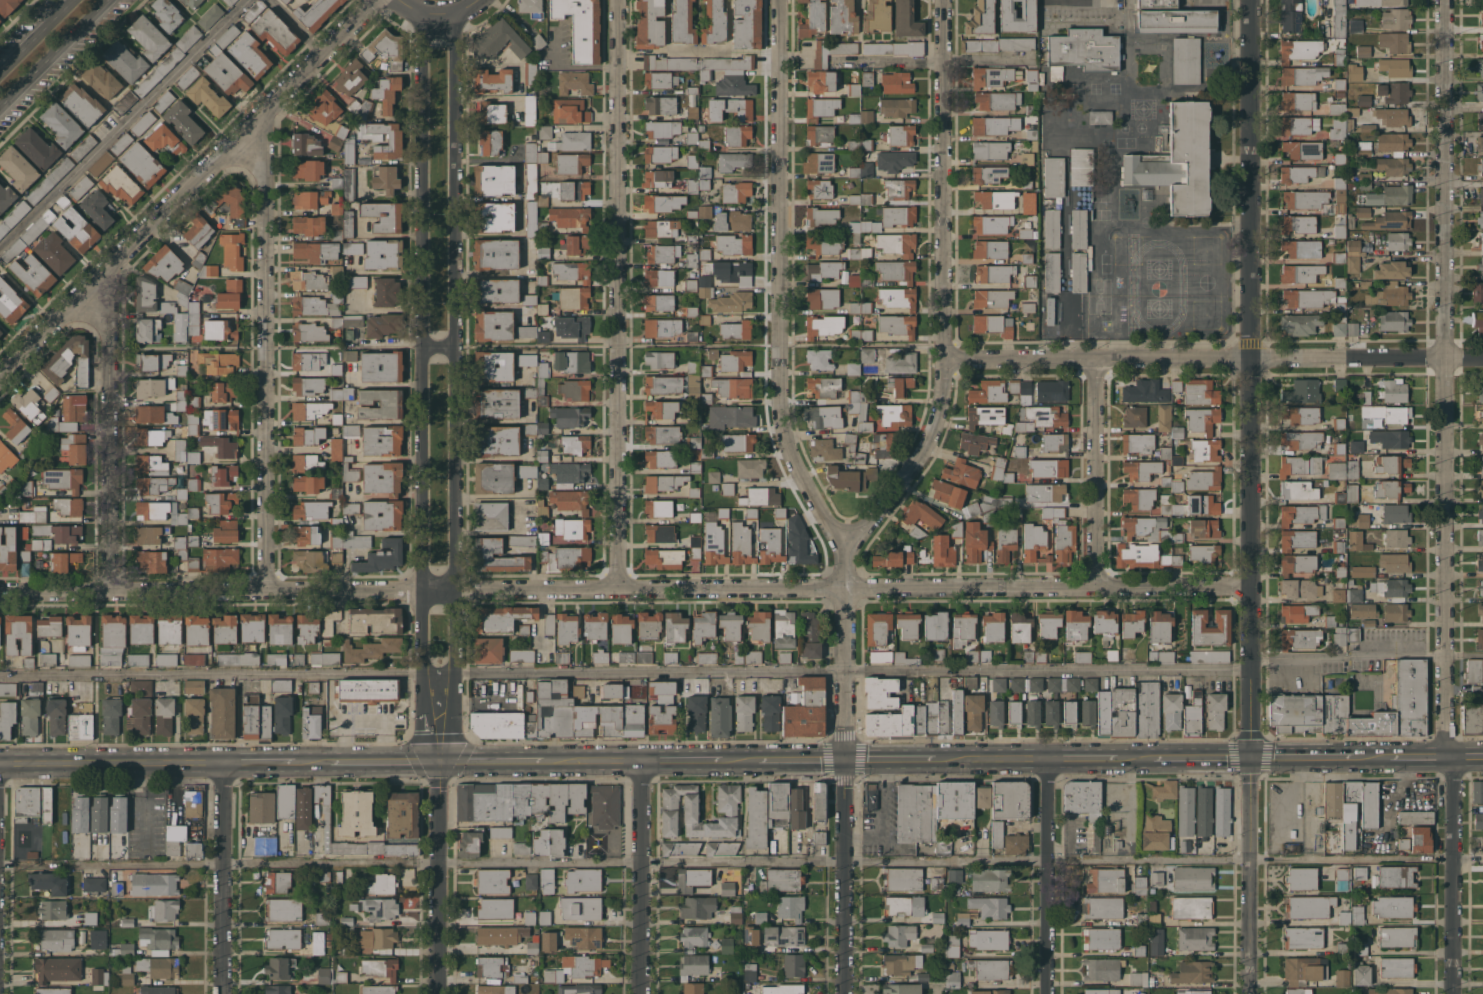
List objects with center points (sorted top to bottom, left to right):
building: (285, 1)
road: (1081, 1)
building: (1480, 1)
building: (192, 2)
building: (229, 2)
building: (1381, 2)
park: (437, 5)
road: (464, 5)
building: (7, 6)
building: (531, 7)
building: (254, 10)
building: (316, 12)
road: (425, 12)
building: (1007, 12)
building: (167, 14)
building: (210, 15)
building: (876, 16)
building: (1291, 16)
building: (843, 17)
building: (980, 18)
building: (1173, 18)
building: (1339, 18)
building: (1396, 18)
building: (813, 19)
building: (906, 19)
building: (1481, 19)
building: (0, 20)
building: (682, 22)
building: (714, 22)
building: (649, 24)
building: (747, 24)
building: (1355, 25)
building: (581, 27)
road: (297, 29)
building: (275, 31)
road: (35, 35)
building: (228, 35)
building: (148, 37)
building: (188, 37)
building: (499, 40)
building: (537, 41)
building: (1481, 41)
building: (1394, 42)
building: (1016, 43)
building: (172, 45)
building: (979, 45)
building: (842, 47)
building: (878, 47)
building: (909, 48)
building: (384, 49)
building: (1084, 49)
building: (1299, 49)
building: (1363, 51)
road: (53, 53)
building: (250, 54)
building: (821, 54)
building: (1339, 56)
road: (975, 59)
building: (170, 60)
building: (1186, 60)
building: (125, 61)
building: (654, 62)
building: (744, 62)
road: (889, 62)
building: (682, 63)
building: (715, 63)
building: (1480, 65)
building: (1395, 66)
road: (569, 67)
building: (1059, 69)
building: (224, 71)
building: (690, 71)
building: (1354, 72)
building: (530, 73)
building: (704, 75)
building: (993, 75)
building: (1303, 75)
building: (188, 77)
building: (350, 77)
building: (867, 78)
building: (1031, 78)
building: (101, 79)
building: (659, 79)
building: (492, 80)
building: (821, 80)
building: (148, 81)
building: (575, 82)
building: (897, 82)
building: (734, 83)
building: (1339, 83)
building: (692, 89)
building: (853, 89)
building: (1479, 91)
building: (386, 92)
building: (536, 92)
building: (540, 92)
building: (1394, 92)
building: (1340, 94)
building: (208, 96)
building: (1329, 98)
building: (997, 99)
building: (164, 100)
building: (1298, 100)
building: (1364, 100)
building: (124, 102)
building: (82, 103)
building: (660, 104)
building: (354, 105)
building: (897, 106)
building: (325, 107)
building: (821, 107)
building: (729, 108)
building: (1030, 109)
building: (1342, 109)
building: (365, 110)
building: (529, 110)
building: (569, 110)
building: (491, 112)
building: (692, 112)
building: (855, 116)
building: (866, 116)
building: (1100, 116)
building: (1393, 116)
building: (1480, 119)
building: (183, 120)
building: (143, 123)
building: (61, 124)
road: (125, 124)
building: (994, 124)
building: (1299, 124)
building: (1349, 124)
building: (701, 127)
building: (1366, 127)
building: (662, 128)
building: (1338, 129)
building: (341, 131)
building: (545, 131)
building: (1053, 131)
building: (737, 134)
building: (819, 134)
building: (901, 134)
building: (1031, 134)
building: (692, 137)
building: (395, 139)
building: (165, 140)
building: (571, 140)
building: (490, 141)
building: (121, 142)
building: (335, 142)
building: (1393, 142)
building: (305, 144)
building: (704, 144)
building: (854, 144)
building: (867, 144)
building: (1034, 145)
building: (1480, 146)
building: (37, 147)
building: (83, 147)
building: (1364, 148)
building: (349, 149)
building: (990, 149)
building: (1303, 149)
building: (531, 152)
building: (660, 153)
building: (543, 157)
building: (1081, 157)
building: (1339, 157)
building: (1027, 158)
building: (734, 160)
building: (894, 160)
building: (1177, 160)
building: (692, 161)
building: (819, 162)
building: (99, 163)
building: (142, 164)
building: (571, 164)
building: (365, 165)
building: (1393, 165)
building: (1480, 166)
building: (18, 168)
building: (308, 169)
building: (866, 169)
building: (60, 170)
building: (705, 172)
building: (854, 172)
building: (988, 173)
building: (1299, 173)
building: (1053, 176)
building: (1364, 177)
building: (658, 178)
building: (385, 179)
building: (494, 179)
building: (531, 180)
building: (336, 182)
building: (1339, 182)
building: (349, 183)
building: (704, 183)
building: (1026, 183)
building: (121, 184)
building: (1365, 184)
building: (692, 185)
building: (1351, 185)
building: (80, 187)
building: (819, 188)
building: (900, 188)
building: (573, 189)
building: (39, 190)
building: (735, 191)
road: (192, 193)
building: (1391, 195)
building: (1481, 195)
building: (6, 196)
building: (310, 198)
building: (867, 198)
building: (995, 198)
building: (542, 199)
building: (854, 199)
building: (1305, 199)
building: (63, 201)
building: (657, 202)
building: (1339, 203)
building: (1031, 204)
building: (237, 206)
building: (96, 208)
building: (336, 208)
building: (705, 211)
building: (1362, 211)
building: (16, 213)
building: (691, 213)
building: (49, 215)
building: (383, 215)
building: (821, 215)
building: (897, 215)
building: (493, 216)
building: (570, 216)
building: (531, 218)
building: (1480, 218)
building: (731, 220)
building: (1389, 220)
building: (1351, 221)
building: (348, 223)
building: (992, 223)
building: (1298, 223)
building: (309, 224)
building: (854, 226)
building: (870, 226)
building: (3, 227)
building: (543, 227)
building: (1052, 228)
building: (1079, 228)
building: (77, 229)
building: (660, 229)
building: (34, 230)
building: (198, 230)
building: (1339, 231)
building: (336, 233)
building: (1025, 233)
building: (863, 234)
building: (856, 236)
building: (700, 237)
building: (691, 238)
building: (1398, 240)
building: (1331, 241)
building: (529, 242)
building: (576, 243)
building: (734, 243)
building: (824, 243)
building: (897, 243)
building: (1479, 243)
building: (353, 247)
building: (1354, 247)
building: (1301, 248)
building: (13, 249)
building: (232, 249)
building: (990, 249)
building: (315, 250)
building: (54, 252)
building: (543, 252)
building: (704, 252)
building: (855, 252)
building: (866, 252)
building: (495, 253)
building: (663, 253)
building: (384, 254)
building: (199, 256)
building: (1338, 256)
building: (1027, 257)
building: (691, 259)
building: (164, 263)
building: (197, 263)
building: (1353, 263)
building: (1480, 265)
building: (822, 269)
building: (896, 269)
building: (1392, 269)
building: (209, 270)
building: (337, 270)
building: (572, 270)
building: (730, 270)
building: (530, 271)
building: (1052, 271)
building: (995, 272)
building: (1078, 272)
building: (1302, 273)
building: (33, 274)
building: (531, 276)
building: (658, 277)
building: (543, 279)
building: (854, 279)
building: (867, 279)
building: (308, 280)
building: (355, 281)
building: (704, 281)
building: (1029, 281)
building: (1339, 281)
building: (691, 284)
building: (1365, 284)
building: (183, 286)
road: (941, 288)
building: (496, 290)
building: (386, 291)
building: (1477, 291)
building: (706, 292)
building: (145, 294)
building: (230, 294)
building: (1389, 294)
road: (618, 295)
building: (572, 297)
building: (822, 297)
building: (898, 297)
building: (992, 297)
building: (1308, 297)
road: (27, 298)
building: (182, 298)
building: (194, 299)
building: (529, 299)
building: (731, 301)
building: (11, 302)
building: (659, 302)
building: (1340, 303)
building: (317, 304)
building: (167, 306)
building: (866, 306)
building: (1028, 306)
building: (855, 307)
building: (543, 308)
building: (691, 311)
building: (1050, 311)
building: (704, 319)
building: (353, 320)
building: (1394, 320)
building: (1478, 320)
building: (337, 321)
building: (194, 323)
building: (1300, 323)
building: (1339, 323)
building: (383, 324)
building: (493, 324)
building: (897, 324)
building: (993, 324)
building: (823, 325)
building: (181, 326)
building: (572, 326)
building: (661, 326)
building: (147, 328)
building: (1352, 328)
building: (220, 329)
building: (737, 329)
building: (308, 331)
building: (527, 331)
building: (1, 332)
building: (337, 332)
building: (854, 334)
building: (867, 334)
building: (543, 335)
building: (691, 335)
road: (22, 339)
road: (697, 345)
road: (438, 347)
road: (263, 348)
building: (712, 353)
building: (350, 355)
building: (867, 355)
road: (1211, 357)
building: (659, 358)
building: (819, 358)
road: (263, 359)
building: (526, 359)
building: (152, 360)
building: (308, 360)
building: (69, 361)
building: (572, 361)
building: (736, 361)
building: (219, 362)
building: (901, 362)
building: (381, 366)
building: (494, 366)
building: (336, 368)
building: (853, 368)
building: (182, 369)
building: (542, 369)
building: (707, 370)
building: (693, 379)
road: (1249, 379)
building: (308, 384)
building: (662, 384)
building: (1339, 384)
building: (900, 385)
building: (1014, 385)
building: (1177, 385)
building: (153, 386)
road: (455, 386)
building: (733, 386)
building: (824, 386)
road: (422, 387)
building: (1025, 387)
building: (575, 388)
building: (1052, 389)
building: (223, 390)
building: (1394, 390)
building: (530, 391)
building: (988, 391)
building: (1145, 391)
building: (1302, 391)
building: (50, 392)
building: (1201, 392)
building: (336, 393)
building: (348, 393)
building: (542, 393)
building: (1480, 393)
building: (181, 394)
building: (868, 395)
building: (854, 396)
building: (1364, 396)
building: (706, 397)
building: (194, 401)
building: (380, 403)
building: (496, 403)
building: (29, 404)
building: (181, 405)
building: (74, 407)
building: (853, 407)
building: (663, 408)
building: (843, 408)
building: (305, 409)
building: (1479, 409)
building: (57, 411)
building: (1350, 411)
building: (1386, 412)
building: (154, 414)
building: (894, 414)
building: (1300, 414)
building: (569, 415)
building: (824, 415)
building: (985, 415)
building: (1045, 415)
building: (730, 416)
building: (1134, 416)
building: (1164, 417)
building: (694, 418)
building: (221, 419)
building: (864, 419)
building: (1202, 419)
building: (193, 423)
building: (1339, 423)
building: (61, 425)
building: (1024, 425)
building: (16, 426)
building: (543, 427)
building: (530, 429)
building: (351, 430)
building: (1006, 430)
building: (1177, 431)
building: (662, 433)
building: (307, 434)
building: (149, 436)
building: (541, 436)
road: (104, 437)
building: (1390, 438)
building: (1301, 439)
building: (1480, 439)
building: (382, 440)
building: (495, 440)
building: (694, 441)
building: (737, 441)
building: (849, 441)
building: (974, 442)
building: (1055, 442)
building: (179, 443)
building: (336, 443)
building: (575, 443)
building: (1137, 443)
building: (886, 444)
building: (221, 445)
building: (75, 446)
building: (1356, 446)
building: (1175, 447)
building: (1339, 447)
building: (706, 448)
building: (824, 449)
building: (1207, 449)
building: (1019, 451)
building: (1165, 452)
building: (25, 453)
building: (336, 454)
building: (180, 455)
building: (543, 455)
building: (6, 456)
building: (193, 456)
building: (859, 457)
building: (347, 458)
building: (661, 458)
building: (1177, 460)
building: (1000, 461)
building: (305, 462)
building: (1391, 463)
building: (1480, 463)
building: (150, 464)
building: (1300, 465)
building: (694, 466)
building: (750, 467)
building: (1048, 467)
building: (1352, 469)
building: (527, 470)
building: (1336, 470)
road: (1095, 471)
building: (1146, 471)
building: (962, 472)
building: (350, 473)
building: (569, 473)
building: (996, 473)
building: (224, 474)
building: (714, 476)
building: (383, 477)
building: (493, 477)
building: (844, 477)
building: (1007, 477)
building: (63, 478)
building: (1204, 479)
building: (542, 481)
building: (663, 482)
building: (193, 483)
building: (308, 483)
building: (12, 484)
building: (154, 484)
building: (1177, 485)
building: (714, 486)
building: (27, 488)
building: (728, 488)
building: (1391, 488)
building: (1481, 488)
building: (1294, 489)
building: (694, 491)
building: (4, 492)
building: (181, 492)
building: (335, 492)
building: (946, 492)
building: (1044, 492)
building: (1352, 493)
building: (760, 496)
building: (1139, 497)
building: (1340, 497)
road: (1444, 497)
road: (812, 498)
building: (570, 499)
building: (220, 501)
building: (1004, 501)
building: (1165, 504)
building: (68, 505)
building: (1198, 505)
building: (979, 506)
building: (351, 507)
building: (658, 507)
building: (542, 508)
building: (311, 509)
building: (159, 510)
building: (193, 511)
building: (723, 512)
building: (780, 512)
building: (1047, 512)
building: (1059, 512)
building: (751, 513)
building: (1013, 513)
building: (1301, 513)
building: (1396, 513)
building: (1480, 513)
building: (33, 514)
building: (382, 514)
building: (920, 514)
building: (491, 515)
building: (694, 516)
building: (988, 516)
building: (336, 520)
building: (1360, 520)
building: (1339, 522)
building: (189, 526)
building: (571, 527)
building: (1146, 527)
building: (1204, 528)
building: (956, 530)
building: (226, 531)
building: (60, 532)
building: (348, 532)
building: (916, 532)
building: (150, 533)
building: (660, 533)
building: (306, 534)
building: (1178, 537)
building: (1480, 537)
building: (543, 538)
building: (1397, 538)
building: (193, 539)
building: (522, 539)
building: (714, 539)
building: (1297, 539)
building: (1355, 539)
building: (695, 540)
building: (798, 540)
building: (1064, 540)
building: (336, 541)
building: (357, 541)
building: (975, 541)
building: (179, 542)
building: (1005, 542)
building: (1034, 542)
building: (741, 543)
building: (38, 544)
building: (770, 545)
building: (1338, 546)
building: (1366, 546)
building: (542, 547)
building: (8, 548)
building: (942, 550)
building: (924, 551)
building: (696, 553)
building: (1204, 553)
building: (182, 554)
building: (483, 554)
building: (24, 555)
building: (1141, 555)
building: (381, 556)
building: (1177, 556)
building: (664, 557)
building: (895, 557)
building: (336, 558)
building: (565, 558)
building: (215, 559)
building: (63, 560)
building: (151, 560)
building: (311, 560)
building: (1394, 562)
building: (1479, 562)
building: (1297, 563)
building: (1340, 571)
building: (1363, 571)
building: (1350, 581)
building: (1394, 587)
building: (1481, 587)
building: (1300, 588)
road: (624, 590)
building: (1338, 594)
building: (1354, 594)
building: (1363, 609)
building: (1480, 609)
building: (1297, 612)
building: (1396, 612)
building: (501, 617)
building: (330, 618)
building: (376, 619)
building: (1329, 620)
building: (1131, 622)
building: (1369, 622)
building: (549, 623)
building: (648, 624)
building: (908, 624)
building: (1048, 624)
building: (1075, 624)
building: (1104, 624)
building: (595, 625)
building: (730, 625)
building: (759, 625)
building: (935, 625)
building: (49, 626)
building: (252, 626)
building: (675, 626)
building: (703, 626)
building: (993, 626)
building: (1159, 626)
building: (566, 627)
building: (878, 627)
building: (963, 627)
building: (1019, 627)
building: (1210, 627)
building: (141, 628)
building: (169, 628)
building: (280, 628)
building: (307, 628)
building: (621, 628)
building: (783, 628)
building: (197, 629)
building: (224, 629)
building: (524, 629)
building: (78, 630)
building: (18, 633)
building: (1353, 634)
building: (810, 635)
building: (1339, 636)
building: (1300, 638)
building: (1479, 638)
building: (112, 639)
building: (327, 641)
building: (369, 648)
building: (488, 649)
building: (644, 653)
building: (938, 654)
building: (1152, 654)
road: (1463, 654)
building: (521, 655)
building: (600, 655)
building: (972, 655)
building: (985, 655)
building: (1028, 655)
building: (1112, 655)
building: (1209, 655)
building: (561, 656)
building: (626, 656)
building: (738, 656)
building: (752, 656)
building: (880, 656)
building: (1041, 656)
building: (1082, 656)
building: (1165, 656)
road: (1346, 656)
building: (316, 657)
building: (331, 657)
building: (669, 657)
building: (707, 657)
building: (784, 657)
building: (166, 658)
building: (194, 658)
building: (228, 658)
building: (249, 658)
building: (277, 658)
building: (299, 658)
building: (905, 658)
building: (47, 659)
building: (79, 659)
building: (139, 659)
building: (28, 662)
building: (1474, 670)
road: (851, 671)
road: (227, 674)
road: (97, 678)
building: (970, 682)
building: (1072, 683)
building: (1090, 683)
building: (999, 684)
building: (1017, 684)
building: (1035, 684)
building: (1054, 684)
building: (281, 685)
building: (140, 686)
building: (193, 686)
building: (313, 686)
building: (8, 688)
building: (350, 690)
building: (382, 690)
building: (611, 690)
building: (579, 691)
building: (625, 691)
building: (881, 692)
building: (1475, 692)
building: (529, 695)
building: (1398, 704)
building: (662, 707)
building: (1146, 708)
building: (527, 709)
building: (554, 709)
building: (806, 709)
building: (1172, 709)
building: (1215, 709)
building: (744, 711)
building: (770, 711)
building: (973, 711)
building: (1123, 711)
building: (222, 712)
building: (696, 712)
building: (957, 712)
building: (996, 712)
building: (1033, 712)
building: (1051, 712)
building: (1088, 712)
building: (1104, 712)
building: (1014, 713)
building: (1069, 713)
building: (1296, 713)
building: (1334, 713)
building: (164, 714)
building: (282, 714)
building: (1193, 714)
building: (30, 715)
building: (56, 715)
building: (111, 715)
building: (141, 715)
building: (194, 715)
building: (256, 716)
building: (720, 716)
building: (942, 717)
building: (7, 718)
building: (1473, 718)
building: (584, 719)
building: (633, 719)
building: (919, 719)
building: (611, 720)
building: (891, 721)
building: (128, 723)
building: (531, 723)
building: (932, 723)
building: (497, 724)
building: (79, 725)
building: (313, 725)
road: (1406, 757)
road: (1465, 757)
road: (1186, 758)
traffic signals: (1249, 758)
road: (1307, 758)
road: (741, 759)
road: (805, 759)
road: (894, 759)
road: (996, 759)
road: (1086, 759)
road: (678, 760)
traffic signals: (845, 760)
road: (312, 761)
road: (384, 761)
traffic signals: (438, 761)
road: (491, 761)
road: (592, 761)
road: (113, 762)
road: (260, 762)
building: (1148, 788)
building: (1164, 790)
building: (1478, 791)
building: (870, 796)
building: (982, 796)
building: (576, 797)
building: (522, 799)
building: (540, 799)
building: (955, 799)
building: (1010, 799)
building: (818, 800)
building: (286, 801)
building: (485, 801)
building: (558, 801)
building: (26, 802)
building: (193, 803)
building: (46, 804)
building: (1369, 804)
building: (605, 805)
building: (1085, 805)
building: (261, 807)
building: (303, 807)
building: (726, 809)
building: (796, 809)
building: (778, 810)
building: (1185, 810)
building: (1319, 810)
building: (324, 811)
building: (1222, 811)
building: (1350, 811)
building: (356, 812)
building: (916, 812)
building: (1204, 812)
building: (80, 813)
building: (99, 813)
building: (118, 813)
building: (402, 813)
road: (883, 816)
building: (1334, 816)
building: (1416, 816)
building: (756, 817)
building: (1478, 820)
building: (500, 832)
building: (1156, 833)
building: (997, 834)
building: (819, 837)
building: (1420, 839)
building: (470, 842)
building: (556, 842)
building: (542, 843)
building: (1015, 843)
building: (1117, 843)
building: (1404, 843)
building: (265, 845)
building: (1185, 845)
building: (173, 847)
building: (358, 847)
building: (521, 847)
building: (679, 847)
building: (721, 847)
building: (944, 847)
building: (402, 848)
building: (193, 849)
building: (32, 854)
road: (741, 862)
building: (1360, 872)
building: (344, 875)
road: (1247, 875)
building: (324, 876)
building: (953, 876)
road: (1047, 876)
building: (1396, 876)
road: (436, 877)
road: (639, 877)
road: (224, 878)
building: (692, 878)
building: (903, 878)
building: (1156, 878)
building: (1192, 878)
building: (1301, 878)
building: (1342, 878)
building: (583, 879)
building: (781, 879)
building: (989, 879)
building: (547, 880)
building: (1106, 880)
building: (277, 881)
building: (492, 881)
building: (531, 881)
building: (49, 882)
building: (933, 882)
building: (94, 883)
building: (153, 883)
building: (381, 884)
building: (1139, 885)
building: (328, 887)
building: (727, 888)
building: (93, 894)
building: (948, 898)
building: (904, 905)
building: (353, 906)
building: (697, 906)
building: (790, 906)
building: (990, 906)
building: (1309, 906)
building: (1393, 906)
building: (379, 907)
building: (495, 907)
building: (580, 907)
building: (1103, 907)
building: (1192, 907)
building: (53, 908)
building: (164, 909)
building: (283, 909)
building: (1153, 913)
building: (735, 914)
building: (1357, 915)
building: (937, 916)
building: (530, 917)
building: (545, 917)
building: (760, 917)
building: (1344, 917)
building: (322, 918)
building: (1142, 918)
building: (963, 919)
building: (347, 920)
building: (127, 921)
building: (748, 931)
building: (500, 934)
building: (783, 934)
building: (898, 934)
building: (329, 935)
building: (98, 936)
building: (693, 936)
building: (1397, 936)
building: (158, 937)
building: (383, 937)
building: (588, 937)
building: (1305, 937)
building: (282, 938)
building: (989, 938)
building: (1101, 938)
building: (1195, 938)
building: (56, 939)
building: (548, 940)
building: (1156, 941)
building: (329, 943)
building: (315, 944)
building: (727, 944)
building: (952, 945)
building: (532, 947)
building: (754, 947)
building: (927, 947)
building: (936, 947)
building: (1343, 948)
building: (1361, 948)
building: (123, 949)
building: (348, 949)
building: (1139, 950)
building: (159, 952)
building: (793, 964)
building: (159, 965)
building: (692, 965)
building: (904, 965)
building: (492, 966)
building: (585, 966)
building: (279, 967)
building: (380, 967)
building: (1397, 967)
building: (57, 968)
building: (991, 968)
building: (1103, 968)
building: (1304, 969)
building: (1192, 971)
building: (750, 972)
building: (1361, 973)
building: (125, 975)
building: (325, 975)
building: (549, 975)
building: (98, 976)
building: (341, 976)
building: (1343, 977)
building: (519, 978)
building: (1138, 978)
building: (952, 979)
building: (97, 987)
building: (579, 988)
building: (693, 988)
building: (901, 988)
building: (158, 989)
building: (277, 989)
building: (379, 989)
building: (495, 989)
building: (784, 989)
building: (53, 990)
building: (1298, 990)
building: (991, 991)
building: (1102, 991)
building: (1390, 991)
building: (1193, 992)

